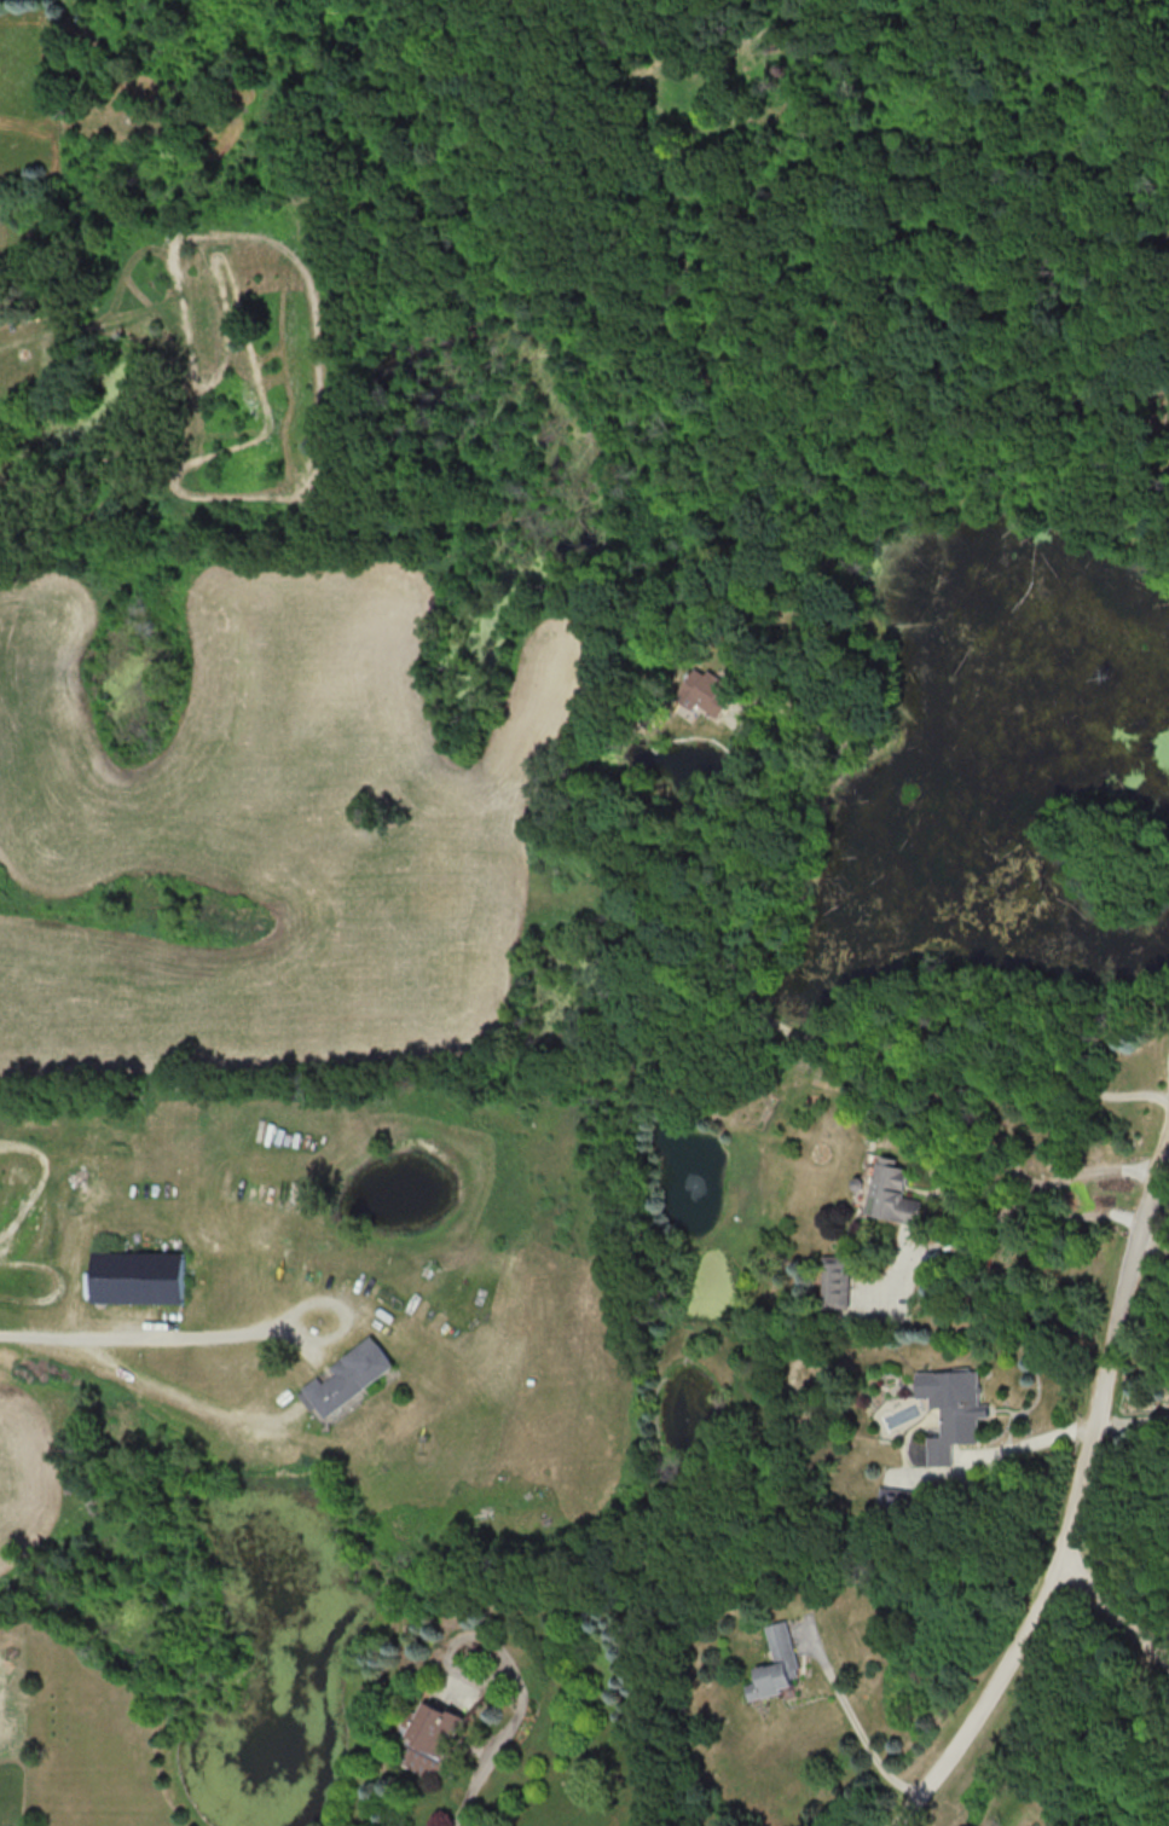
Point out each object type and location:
building: (707, 691)
road: (950, 1173)
building: (891, 1192)
road: (1031, 1200)
road: (1150, 1248)
building: (138, 1276)
building: (834, 1283)
road: (132, 1339)
building: (348, 1378)
building: (951, 1409)
road: (1130, 1421)
road: (1022, 1442)
building: (891, 1499)
road: (1077, 1500)
road: (1115, 1615)
building: (775, 1663)
road: (856, 1726)
building: (428, 1735)
road: (468, 1790)
road: (898, 1824)

